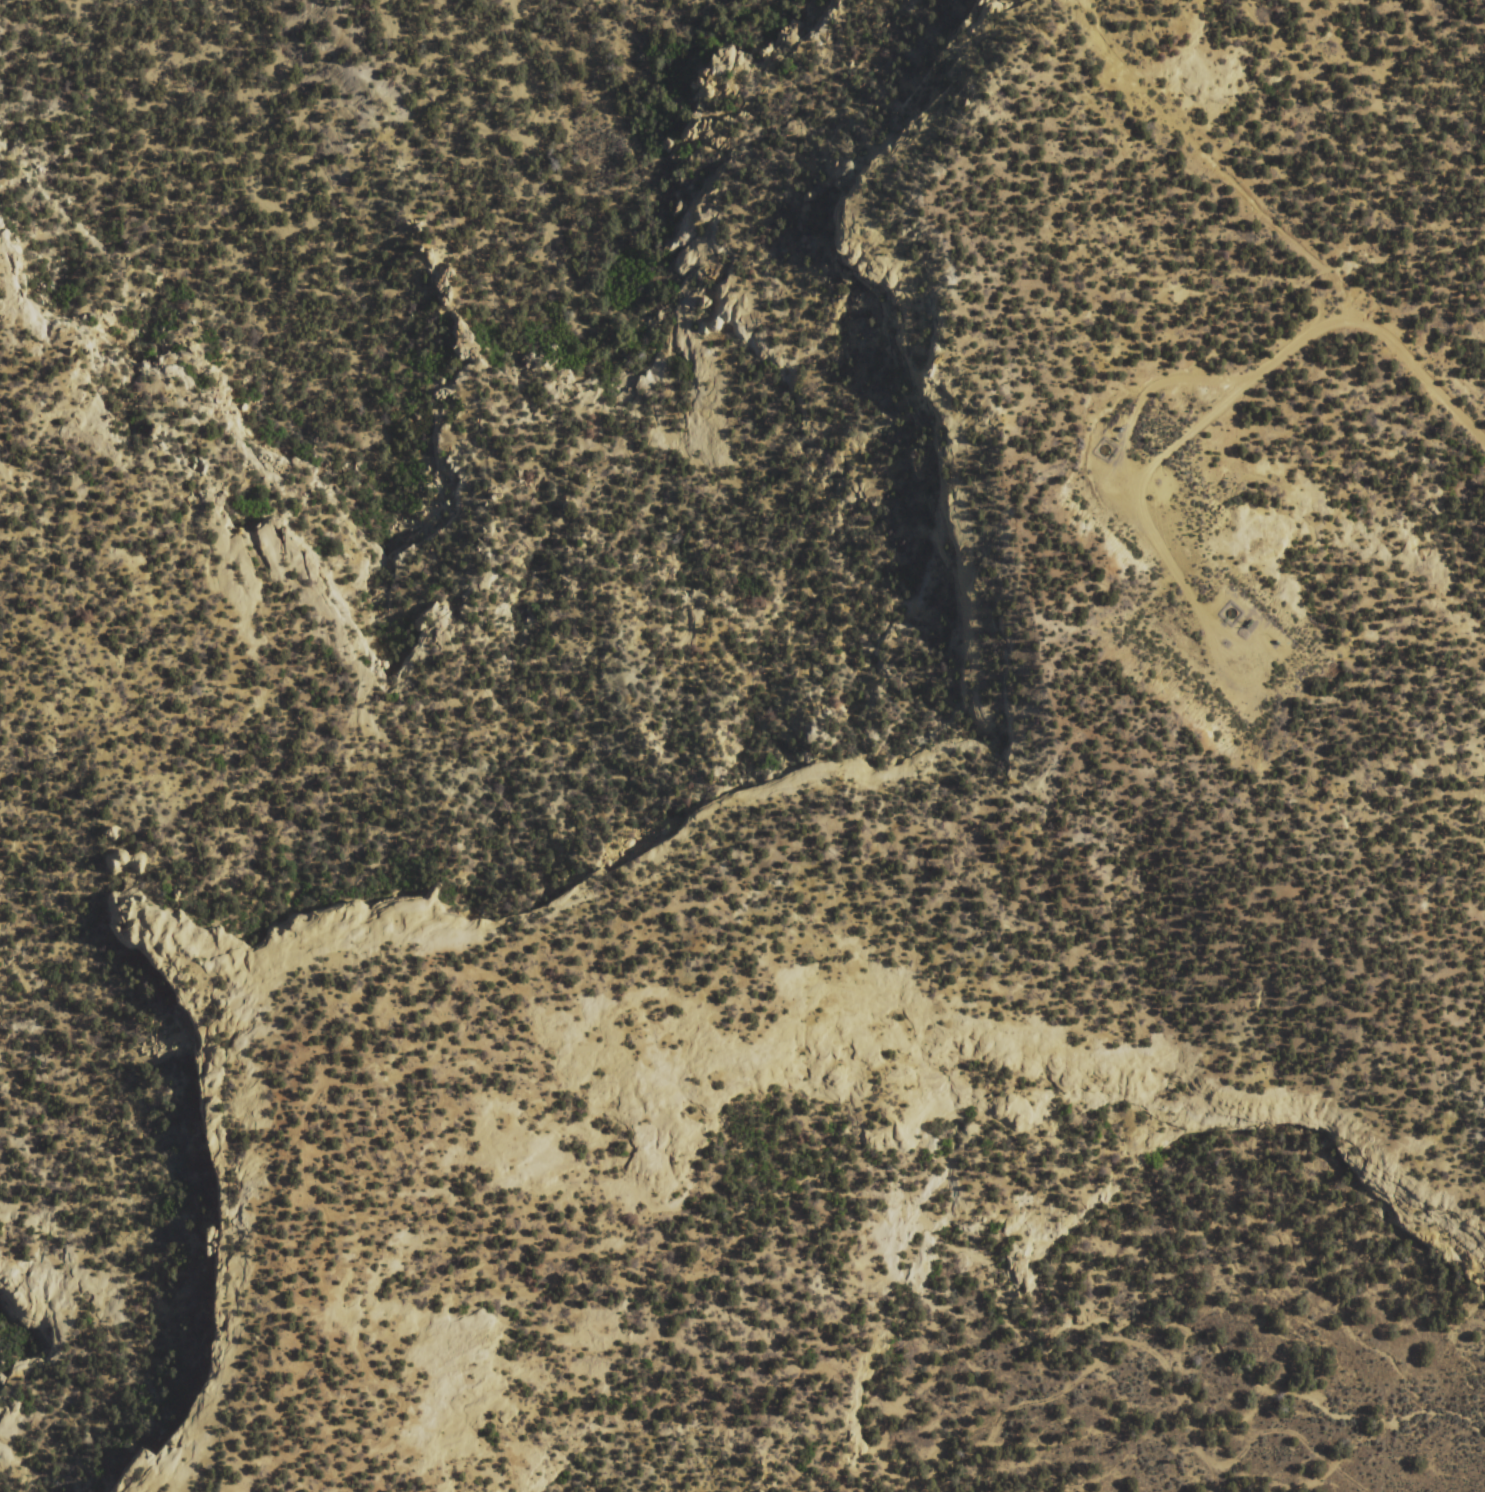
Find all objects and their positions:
road: (1317, 268)

